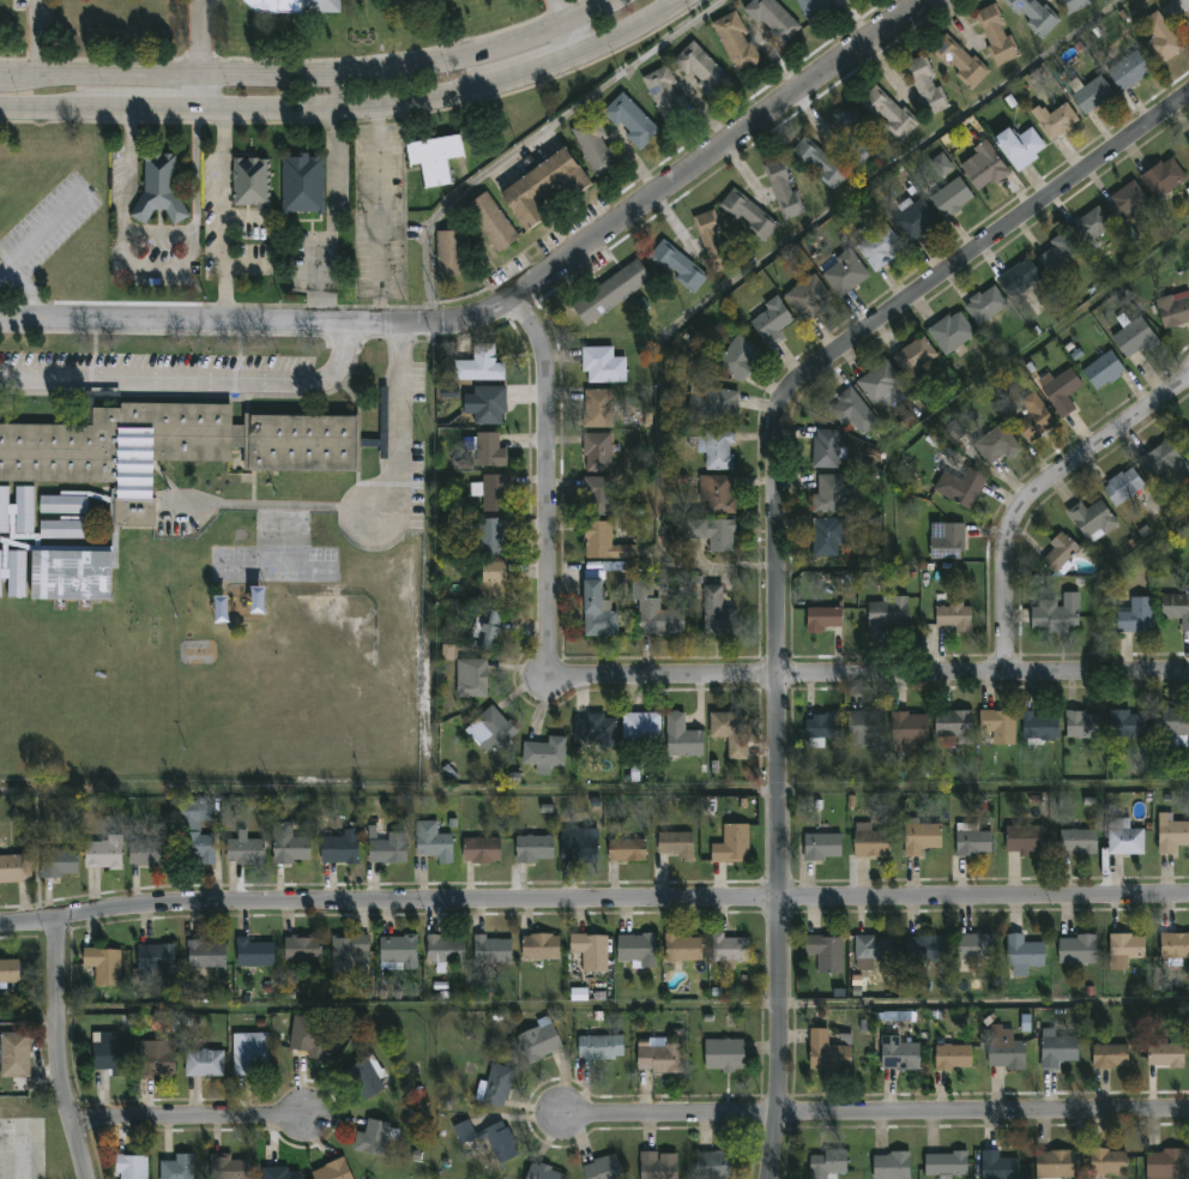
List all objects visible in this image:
building: (1073, 4)
building: (296, 5)
building: (813, 7)
road: (565, 10)
building: (1033, 13)
building: (772, 18)
road: (633, 28)
building: (995, 32)
road: (577, 36)
road: (199, 37)
building: (1159, 37)
road: (40, 38)
building: (735, 41)
road: (403, 53)
road: (92, 60)
road: (200, 60)
building: (956, 60)
road: (541, 68)
building: (700, 68)
building: (1128, 71)
road: (312, 74)
building: (924, 84)
road: (199, 92)
building: (664, 95)
building: (1091, 95)
road: (55, 108)
road: (349, 108)
road: (155, 109)
building: (887, 110)
building: (629, 120)
building: (1054, 121)
road: (128, 125)
building: (852, 137)
road: (533, 138)
building: (1187, 143)
building: (593, 145)
building: (1018, 146)
road: (728, 151)
building: (434, 158)
building: (817, 162)
building: (942, 166)
building: (984, 168)
road: (194, 169)
building: (1161, 178)
building: (251, 182)
building: (302, 185)
building: (542, 186)
building: (161, 187)
building: (783, 187)
building: (949, 197)
building: (1124, 200)
building: (747, 212)
road: (224, 216)
road: (380, 216)
road: (332, 217)
building: (913, 221)
building: (490, 222)
building: (1088, 228)
road: (38, 229)
road: (177, 229)
building: (710, 233)
road: (404, 234)
building: (879, 247)
building: (449, 252)
building: (1056, 253)
building: (676, 265)
building: (843, 271)
building: (1019, 277)
road: (29, 288)
building: (610, 291)
building: (807, 297)
building: (983, 303)
building: (1173, 308)
building: (771, 319)
road: (261, 324)
building: (949, 331)
building: (1133, 337)
building: (913, 356)
building: (737, 357)
building: (478, 365)
building: (600, 365)
building: (1102, 369)
road: (192, 379)
building: (879, 385)
building: (1058, 389)
building: (710, 402)
building: (488, 404)
building: (597, 408)
building: (850, 410)
building: (1033, 417)
road: (400, 425)
building: (171, 444)
building: (996, 445)
building: (826, 447)
building: (488, 449)
building: (718, 450)
building: (596, 451)
building: (1158, 461)
road: (542, 462)
building: (959, 485)
building: (1122, 485)
building: (714, 492)
building: (829, 492)
building: (493, 493)
building: (597, 495)
road: (1037, 495)
building: (64, 505)
building: (17, 513)
building: (134, 513)
building: (1091, 519)
building: (62, 529)
building: (711, 533)
building: (826, 535)
building: (489, 536)
road: (778, 536)
building: (600, 541)
building: (947, 542)
building: (1057, 552)
building: (612, 566)
building: (14, 573)
building: (70, 575)
building: (493, 579)
building: (1176, 608)
building: (652, 609)
building: (596, 610)
building: (717, 613)
building: (886, 614)
building: (953, 614)
building: (1055, 614)
building: (1133, 614)
building: (823, 618)
building: (488, 628)
building: (465, 673)
road: (847, 678)
building: (1084, 723)
building: (1125, 723)
building: (822, 724)
building: (953, 726)
building: (996, 726)
building: (1039, 726)
building: (489, 727)
building: (640, 727)
building: (864, 727)
building: (1172, 727)
building: (909, 728)
building: (594, 729)
building: (729, 730)
building: (681, 735)
building: (544, 752)
road: (984, 786)
building: (1171, 835)
building: (919, 838)
building: (1024, 840)
building: (1078, 842)
building: (1124, 842)
building: (431, 843)
building: (972, 844)
building: (288, 846)
building: (674, 846)
building: (730, 846)
building: (871, 846)
building: (195, 847)
building: (578, 847)
building: (821, 848)
building: (338, 849)
building: (387, 850)
building: (532, 850)
building: (243, 852)
building: (626, 852)
building: (479, 853)
building: (147, 854)
building: (102, 855)
building: (58, 865)
building: (14, 870)
road: (593, 906)
building: (973, 948)
building: (1125, 948)
building: (1173, 948)
building: (539, 949)
building: (682, 949)
building: (873, 949)
building: (301, 950)
building: (729, 950)
building: (927, 950)
building: (443, 951)
building: (635, 951)
building: (1075, 951)
building: (349, 952)
building: (490, 952)
building: (587, 952)
building: (397, 954)
building: (1022, 954)
building: (254, 955)
building: (825, 955)
building: (205, 956)
building: (155, 962)
building: (102, 967)
building: (10, 970)
road: (984, 1004)
road: (417, 1007)
building: (1026, 1023)
road: (58, 1041)
building: (309, 1041)
building: (538, 1043)
building: (599, 1048)
building: (1003, 1049)
building: (1056, 1051)
building: (14, 1054)
building: (108, 1054)
building: (826, 1054)
building: (248, 1055)
building: (723, 1057)
building: (899, 1057)
building: (1164, 1057)
building: (658, 1058)
building: (1109, 1058)
building: (952, 1059)
building: (155, 1064)
building: (204, 1064)
building: (364, 1079)
building: (496, 1087)
road: (876, 1114)
road: (189, 1124)
building: (370, 1141)
building: (489, 1141)
building: (26, 1149)
building: (823, 1163)
building: (1105, 1163)
building: (944, 1165)
building: (1163, 1165)
building: (657, 1166)
building: (714, 1166)
building: (889, 1166)
building: (1054, 1166)
building: (996, 1167)
building: (131, 1168)
building: (176, 1168)
building: (225, 1168)
building: (603, 1168)
building: (331, 1172)
building: (541, 1173)
building: (280, 1174)

